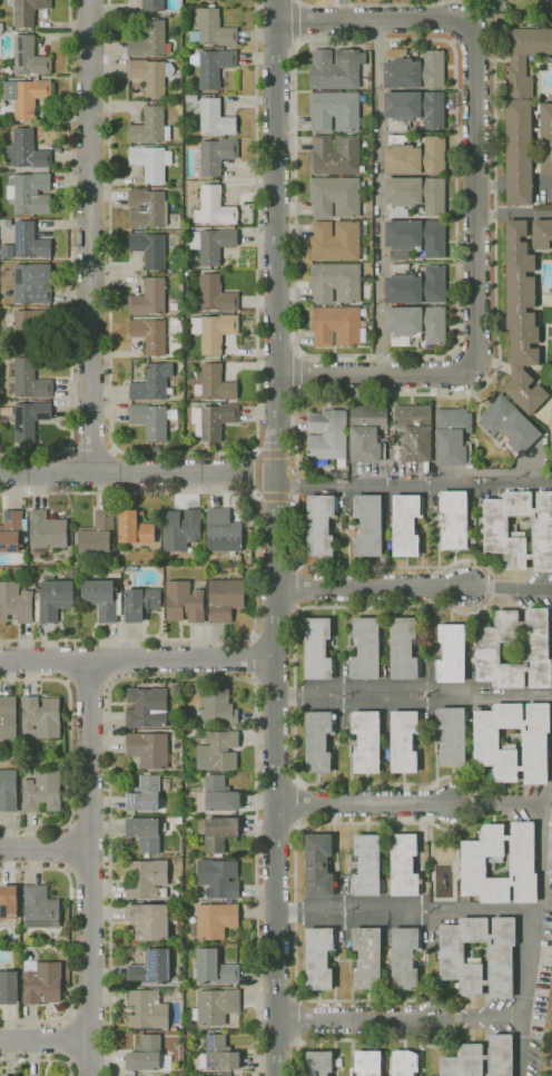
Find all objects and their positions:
building: (205, 0)
park: (372, 0)
building: (154, 6)
road: (494, 6)
park: (517, 8)
road: (434, 10)
building: (27, 11)
road: (343, 11)
building: (1, 27)
building: (10, 28)
building: (213, 29)
building: (1, 32)
building: (149, 40)
road: (448, 42)
building: (29, 56)
building: (213, 67)
building: (335, 69)
building: (413, 70)
building: (150, 75)
building: (29, 97)
building: (414, 109)
building: (335, 110)
building: (525, 114)
building: (214, 117)
building: (150, 127)
building: (191, 140)
building: (26, 153)
building: (216, 155)
building: (335, 155)
building: (415, 155)
building: (150, 160)
road: (542, 182)
road: (520, 183)
road: (491, 185)
building: (29, 193)
building: (415, 195)
building: (335, 197)
road: (379, 197)
road: (475, 197)
building: (551, 198)
building: (214, 207)
building: (146, 208)
road: (513, 213)
building: (8, 223)
building: (541, 234)
road: (89, 235)
building: (415, 237)
building: (30, 241)
building: (335, 241)
building: (211, 244)
building: (149, 248)
road: (69, 258)
building: (335, 282)
building: (32, 284)
building: (415, 285)
building: (216, 294)
building: (520, 296)
building: (148, 299)
building: (415, 324)
building: (336, 326)
building: (31, 330)
building: (214, 331)
building: (150, 335)
building: (12, 358)
building: (29, 381)
building: (152, 383)
building: (215, 383)
building: (525, 391)
building: (29, 419)
building: (213, 420)
building: (150, 421)
building: (509, 425)
building: (413, 432)
building: (367, 433)
building: (326, 434)
building: (551, 434)
building: (452, 436)
road: (91, 444)
road: (186, 452)
road: (137, 472)
road: (413, 485)
road: (297, 488)
building: (453, 519)
building: (406, 524)
building: (321, 525)
building: (368, 526)
building: (135, 528)
building: (181, 529)
building: (11, 531)
building: (46, 531)
building: (223, 531)
building: (494, 531)
building: (96, 535)
road: (275, 538)
building: (76, 564)
road: (255, 566)
building: (72, 574)
road: (372, 588)
road: (511, 588)
building: (53, 598)
building: (103, 598)
building: (225, 599)
building: (184, 601)
building: (141, 603)
building: (16, 604)
building: (317, 649)
building: (365, 649)
building: (403, 649)
building: (487, 651)
building: (451, 654)
road: (253, 657)
road: (137, 659)
road: (185, 677)
building: (175, 689)
road: (413, 695)
building: (147, 707)
building: (217, 707)
building: (8, 717)
building: (40, 717)
building: (451, 735)
building: (403, 740)
building: (318, 741)
building: (366, 741)
building: (484, 742)
building: (149, 750)
building: (218, 751)
road: (70, 754)
building: (8, 791)
building: (42, 792)
building: (145, 794)
building: (219, 795)
road: (364, 804)
road: (499, 805)
building: (217, 832)
building: (145, 833)
road: (541, 839)
road: (45, 848)
building: (549, 852)
building: (318, 865)
building: (366, 865)
building: (404, 865)
building: (473, 865)
road: (90, 868)
building: (146, 878)
building: (218, 878)
road: (295, 897)
building: (8, 906)
building: (39, 908)
road: (482, 911)
building: (149, 921)
building: (214, 921)
road: (71, 943)
building: (319, 957)
building: (366, 957)
building: (404, 958)
building: (460, 960)
building: (214, 967)
building: (150, 968)
building: (41, 982)
building: (9, 987)
building: (215, 1007)
building: (146, 1009)
road: (454, 1017)
road: (357, 1019)
road: (480, 1019)
road: (299, 1020)
building: (174, 1028)
building: (186, 1034)
road: (365, 1039)
road: (46, 1041)
building: (218, 1055)
building: (147, 1056)
building: (481, 1058)
road: (40, 1060)
building: (318, 1063)
building: (367, 1063)
building: (405, 1063)
building: (9, 1075)

